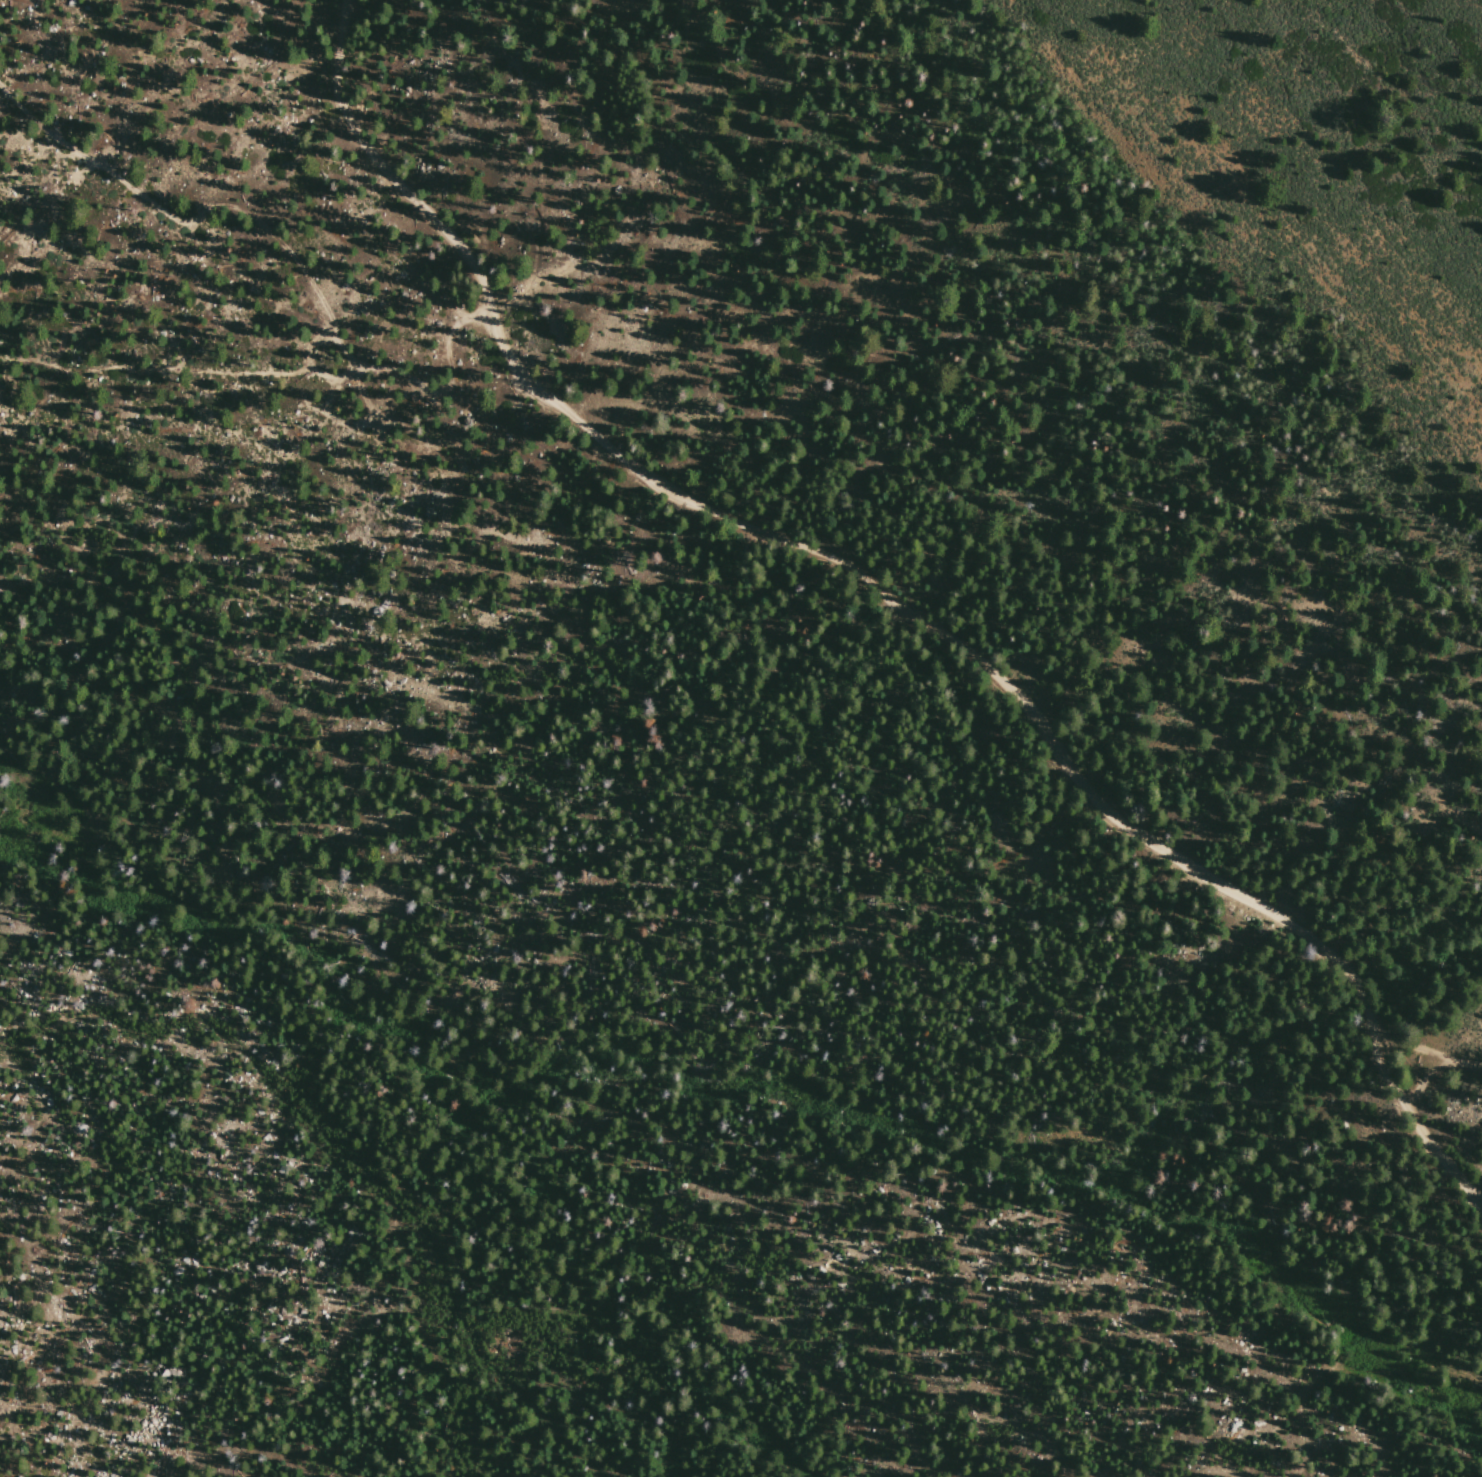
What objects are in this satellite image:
road: (281, 240)
road: (186, 367)
road: (889, 597)
road: (224, 750)
road: (1383, 850)
road: (1431, 1051)
road: (360, 1152)

